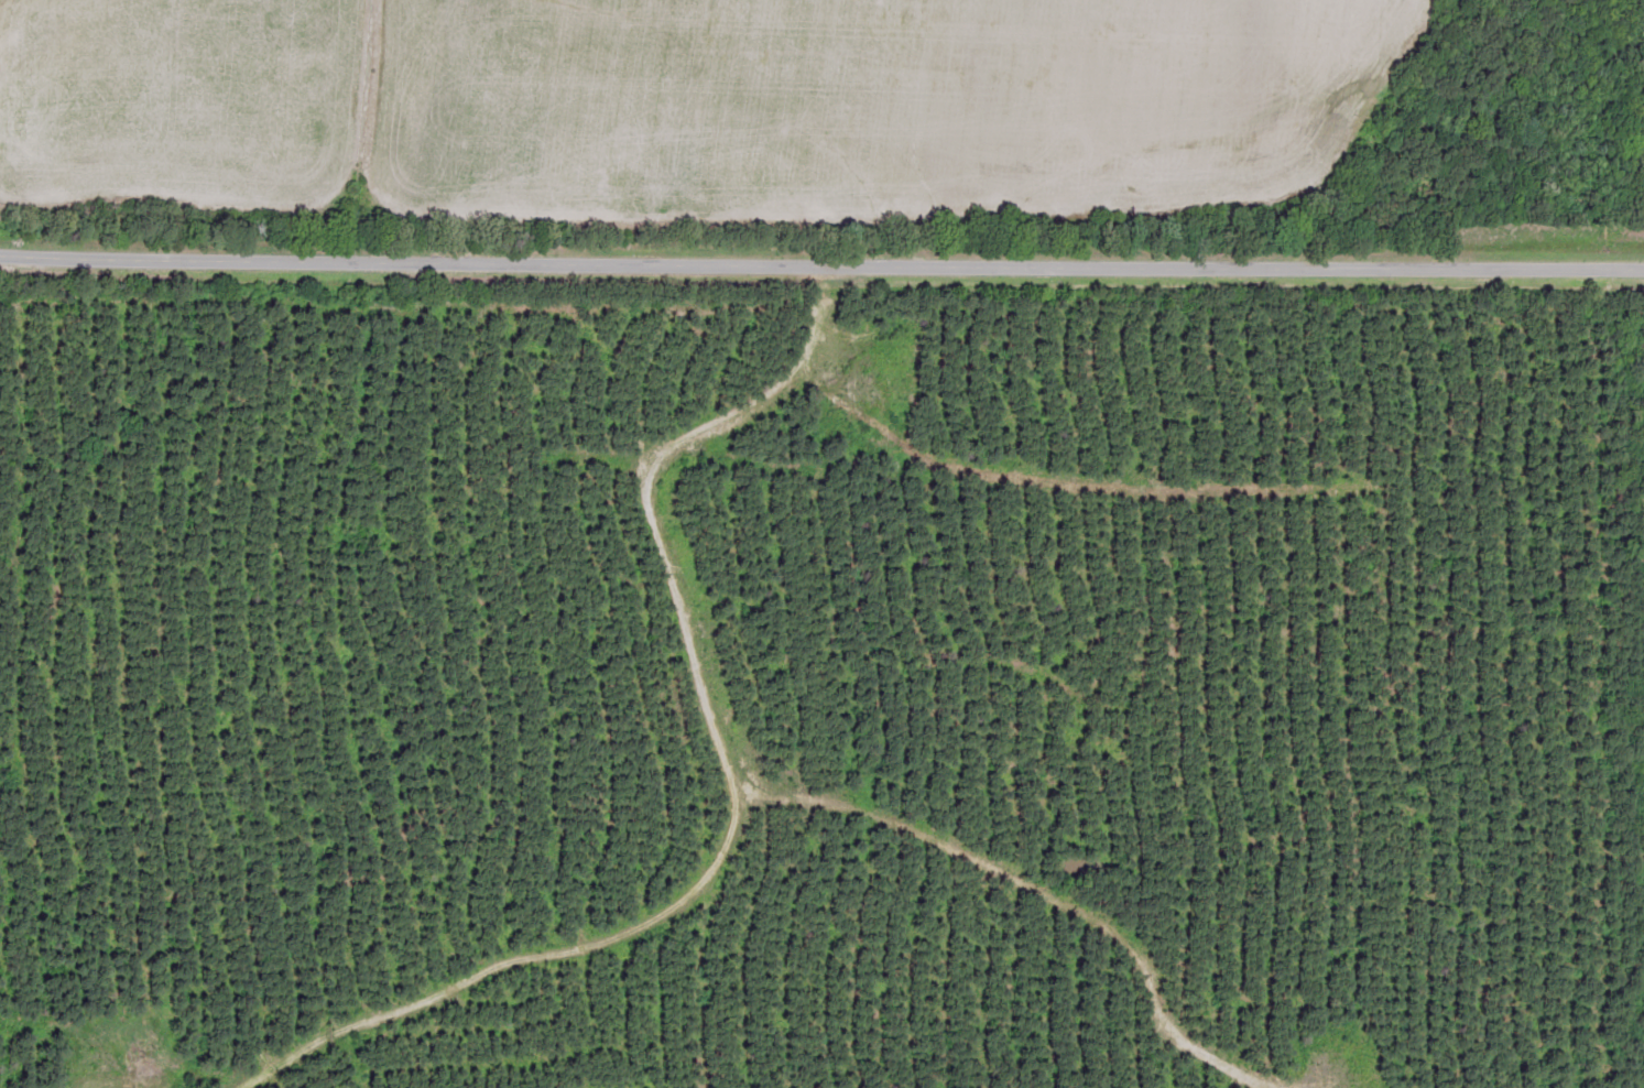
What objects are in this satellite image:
road: (821, 241)

